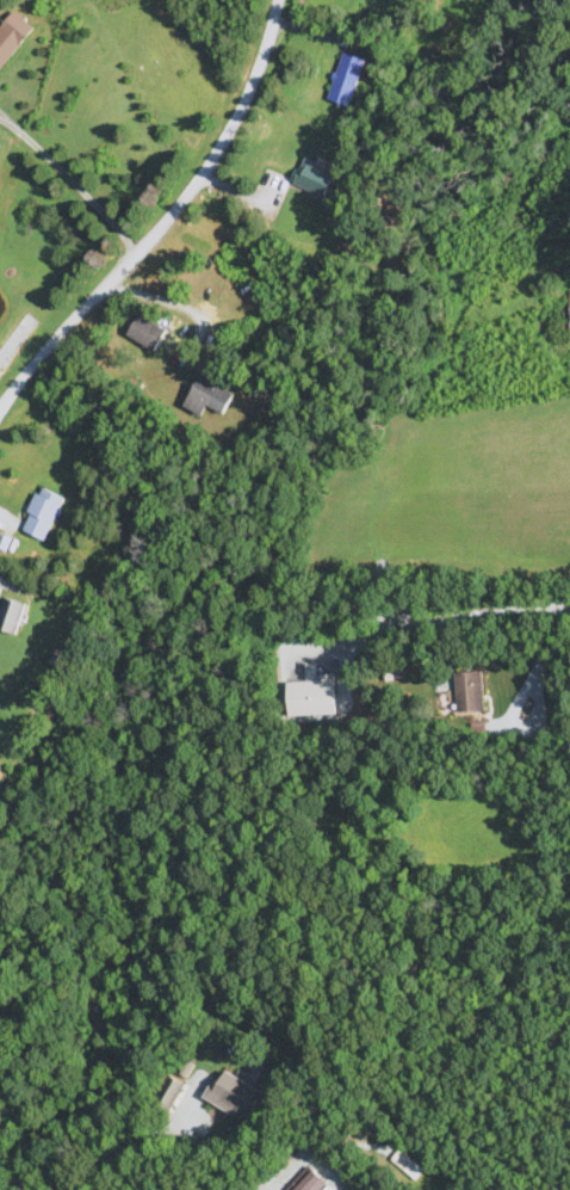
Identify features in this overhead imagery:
building: (13, 36)
building: (347, 79)
building: (314, 178)
road: (72, 181)
road: (168, 217)
road: (166, 300)
building: (147, 332)
building: (209, 395)
building: (43, 513)
building: (11, 615)
road: (447, 617)
road: (543, 665)
building: (465, 691)
building: (312, 695)
building: (171, 1092)
building: (236, 1096)
road: (116, 1149)
building: (311, 1182)
road: (256, 1188)

